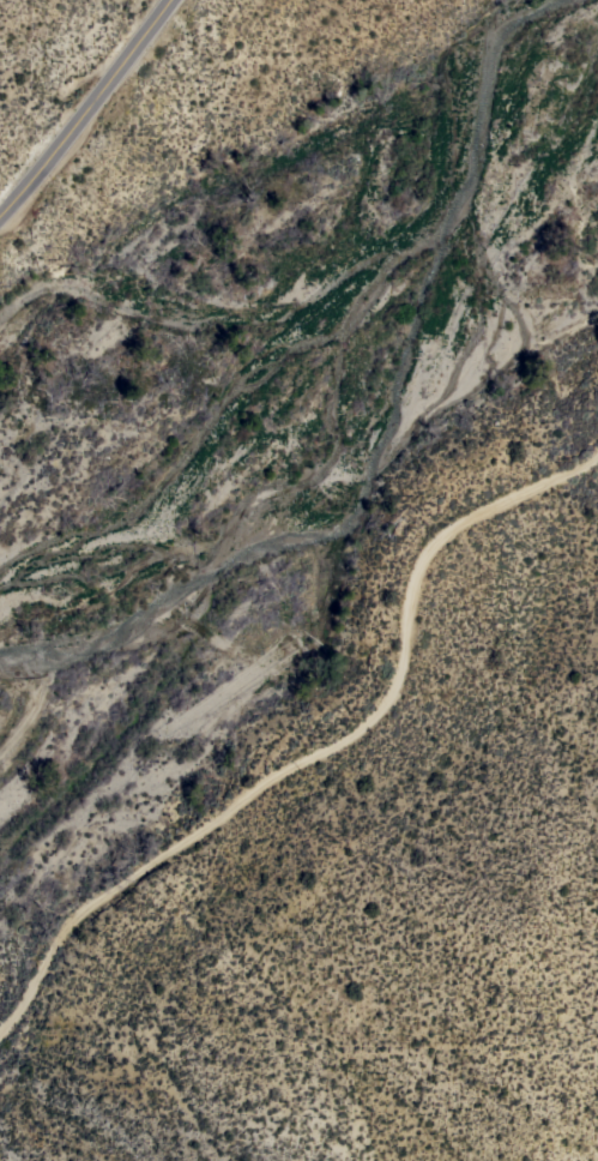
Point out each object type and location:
road: (89, 110)
road: (321, 758)

